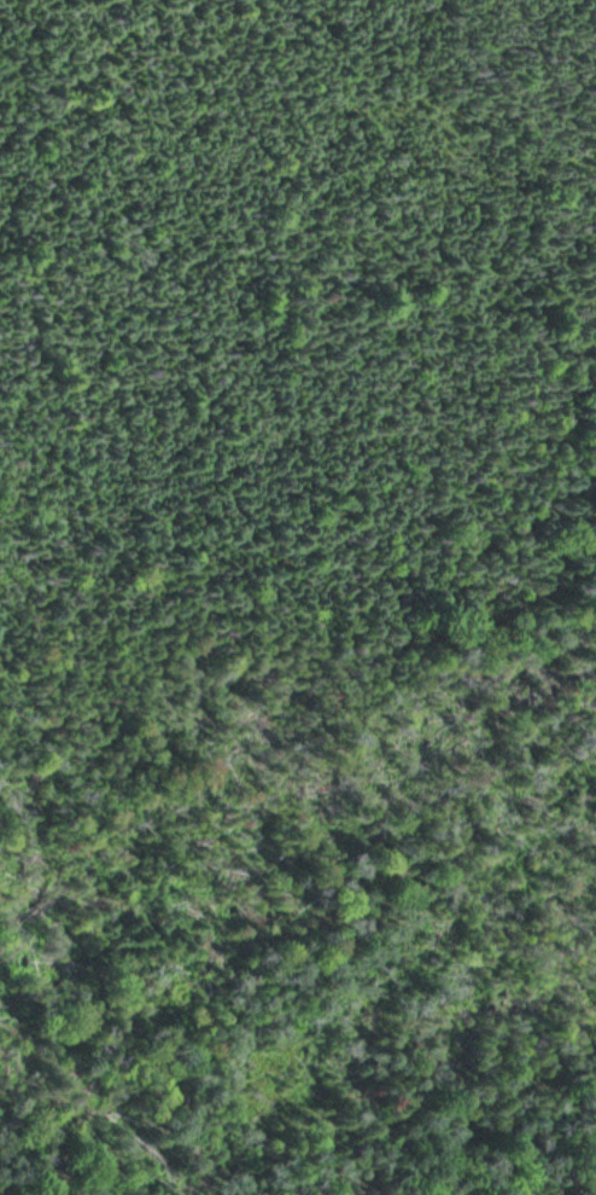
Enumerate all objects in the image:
road: (121, 936)

